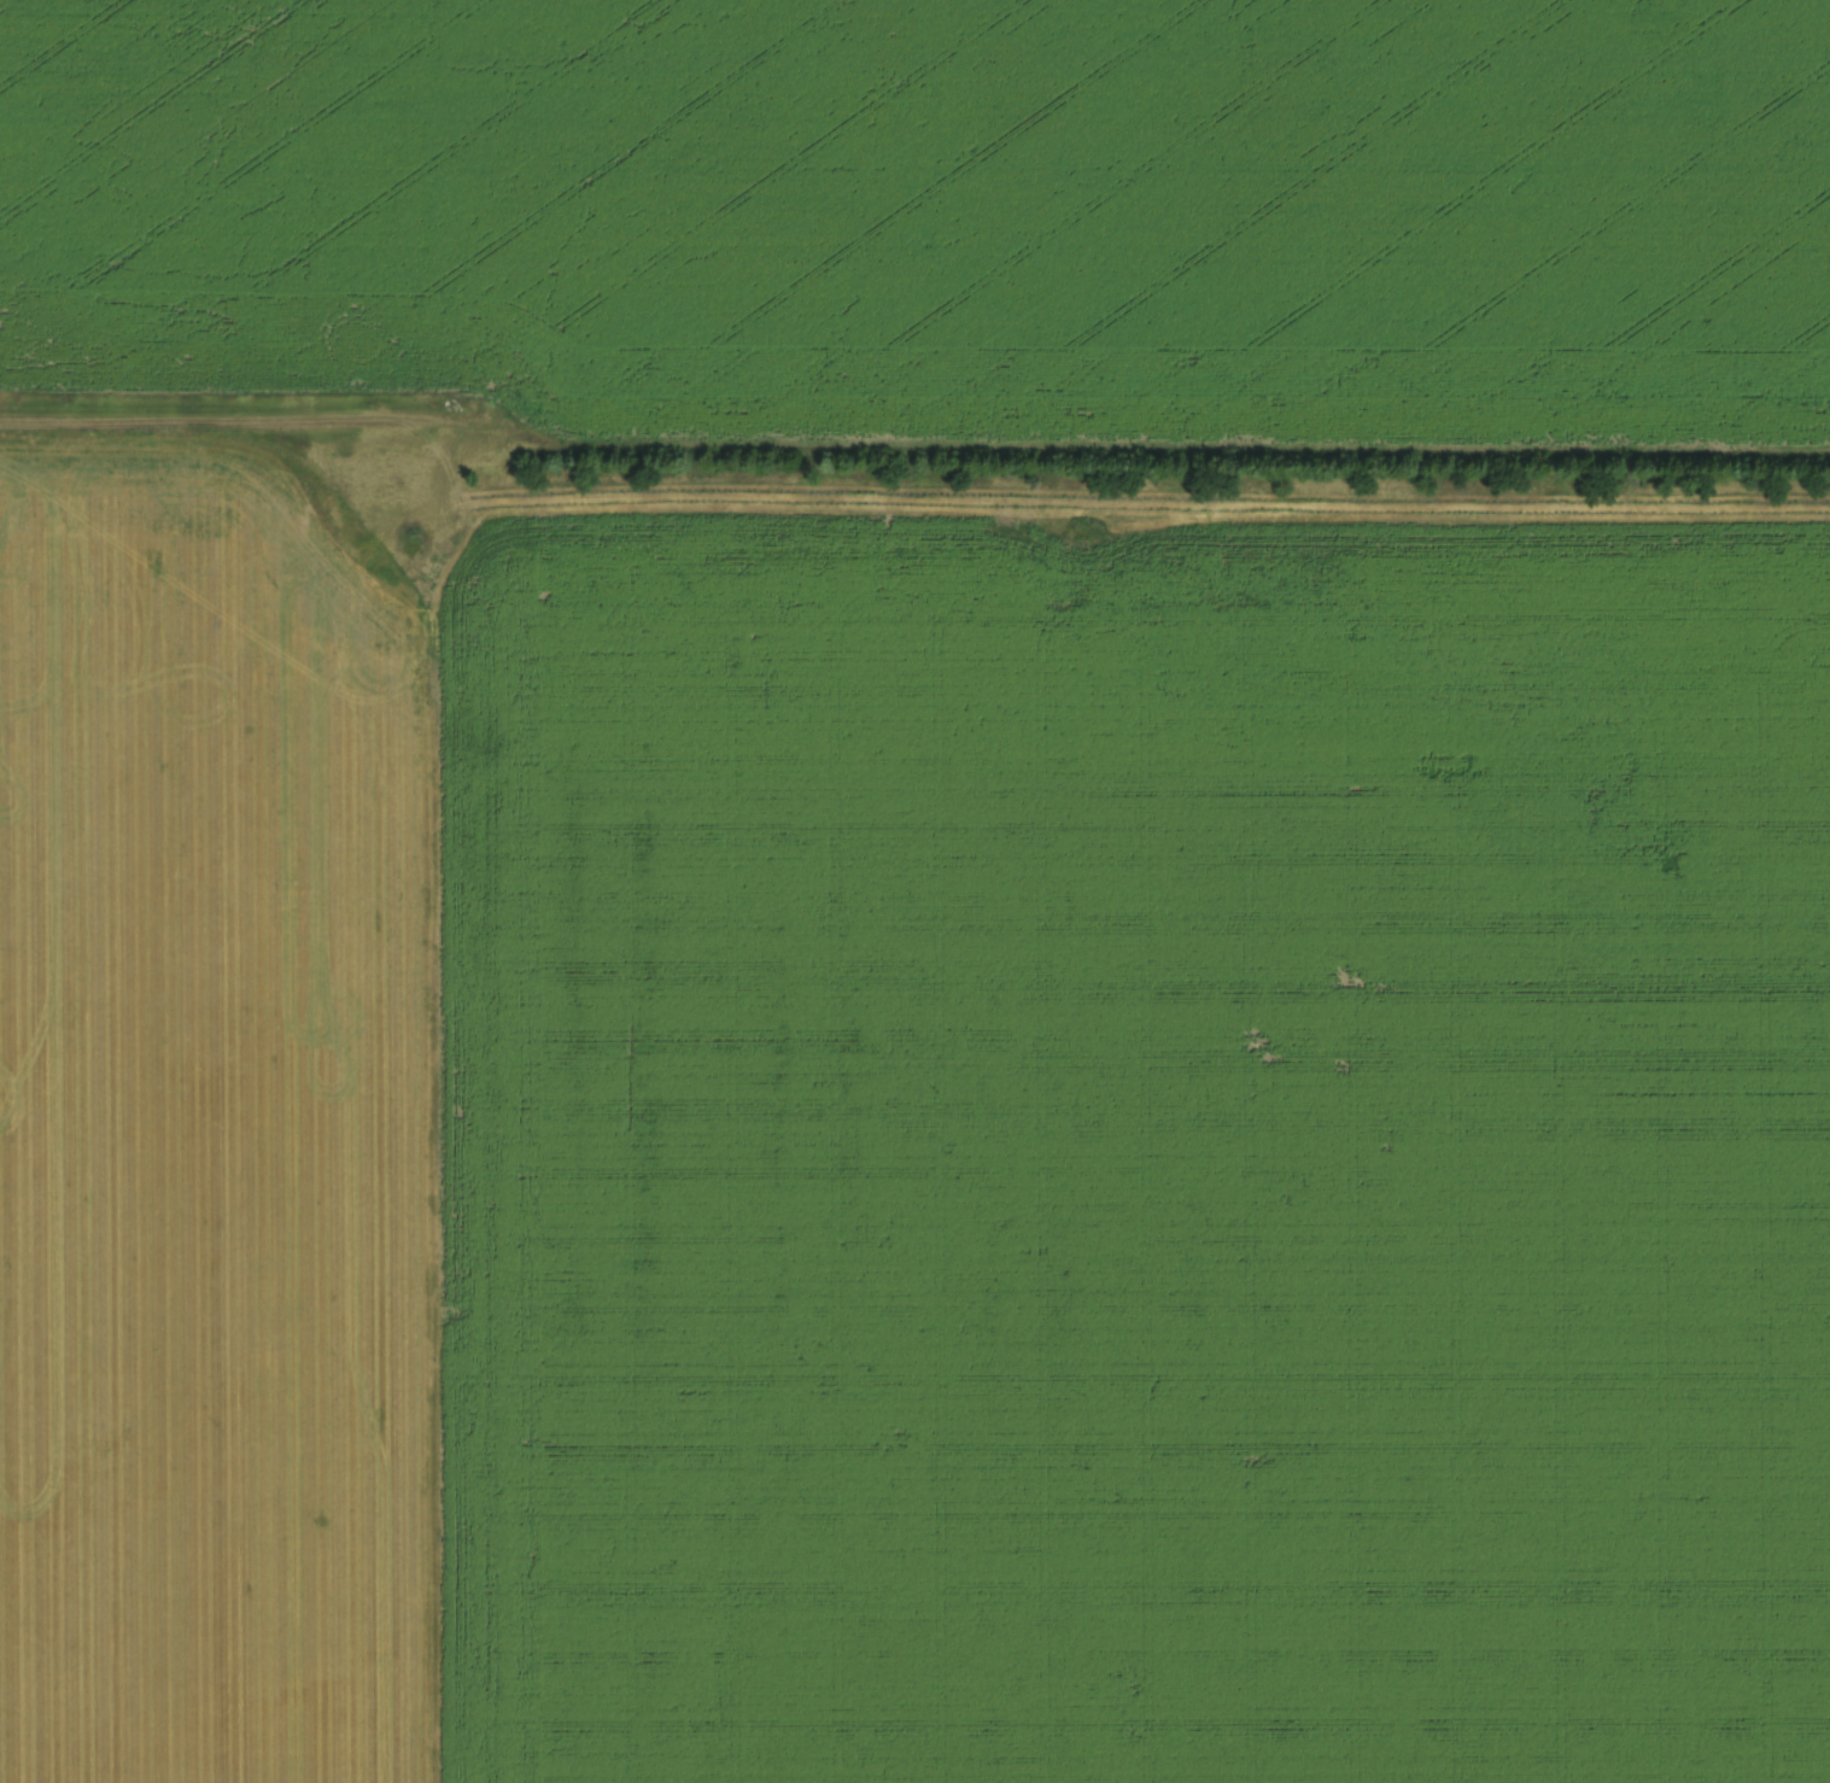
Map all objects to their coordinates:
road: (914, 422)

